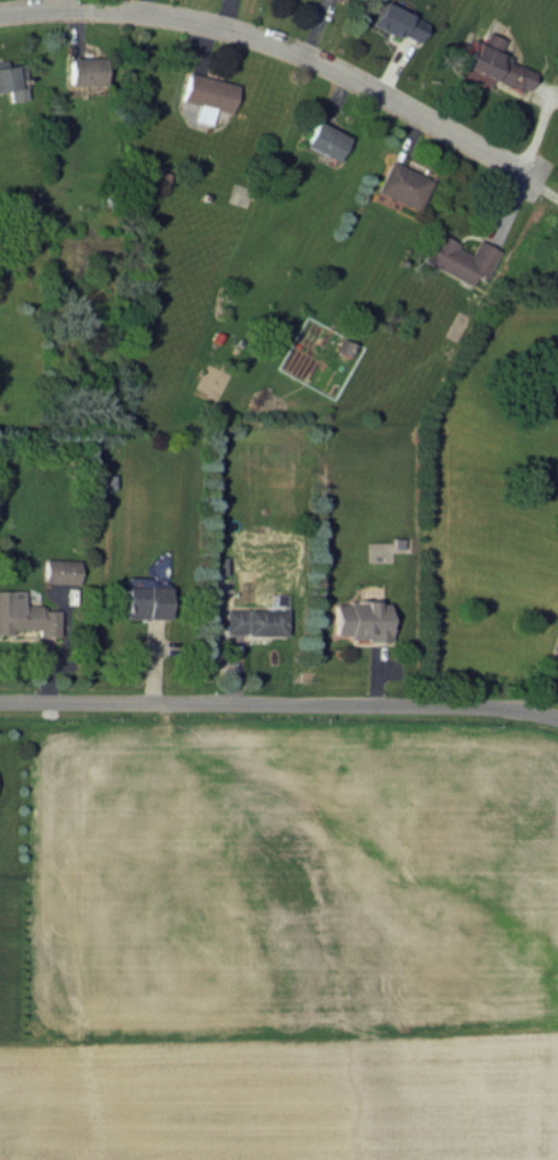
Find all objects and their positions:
building: (339, 0)
building: (396, 22)
road: (280, 45)
building: (489, 64)
building: (83, 70)
building: (12, 79)
building: (206, 95)
building: (322, 140)
building: (400, 184)
road: (542, 190)
building: (457, 258)
building: (59, 569)
building: (143, 600)
building: (24, 614)
building: (357, 619)
building: (251, 620)
road: (544, 679)
road: (279, 705)

